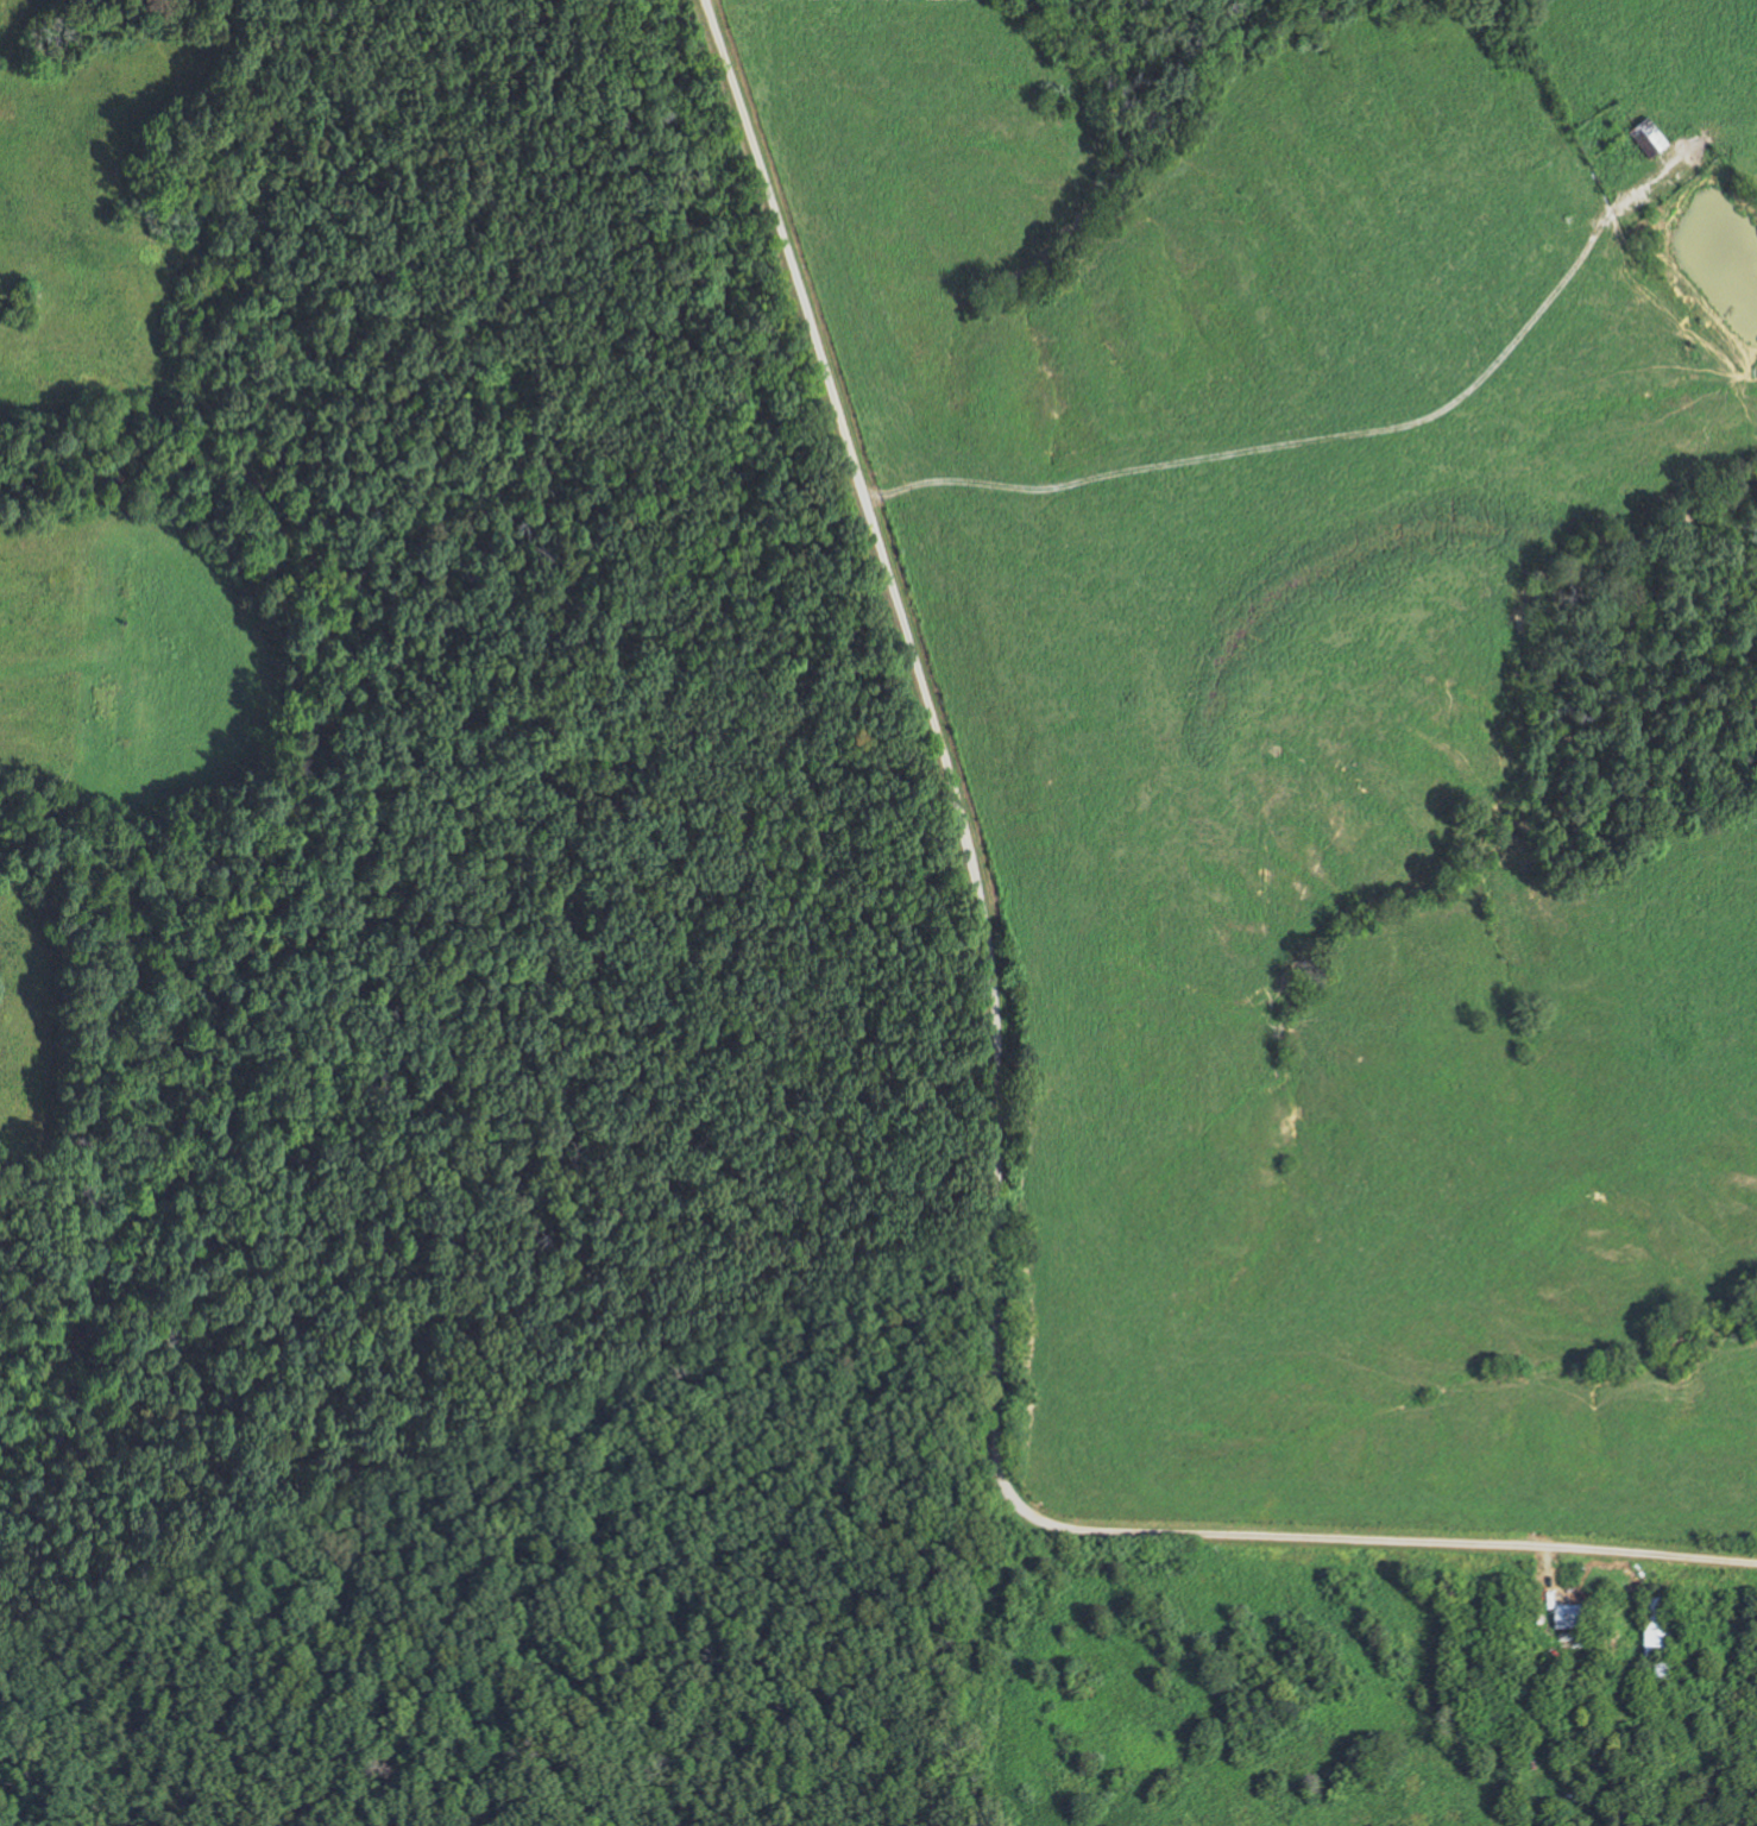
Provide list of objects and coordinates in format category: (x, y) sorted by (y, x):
building: (1643, 136)
road: (1280, 439)
road: (1002, 1103)
road: (1548, 1574)
building: (1567, 1619)
building: (1656, 1675)
building: (1693, 1814)

